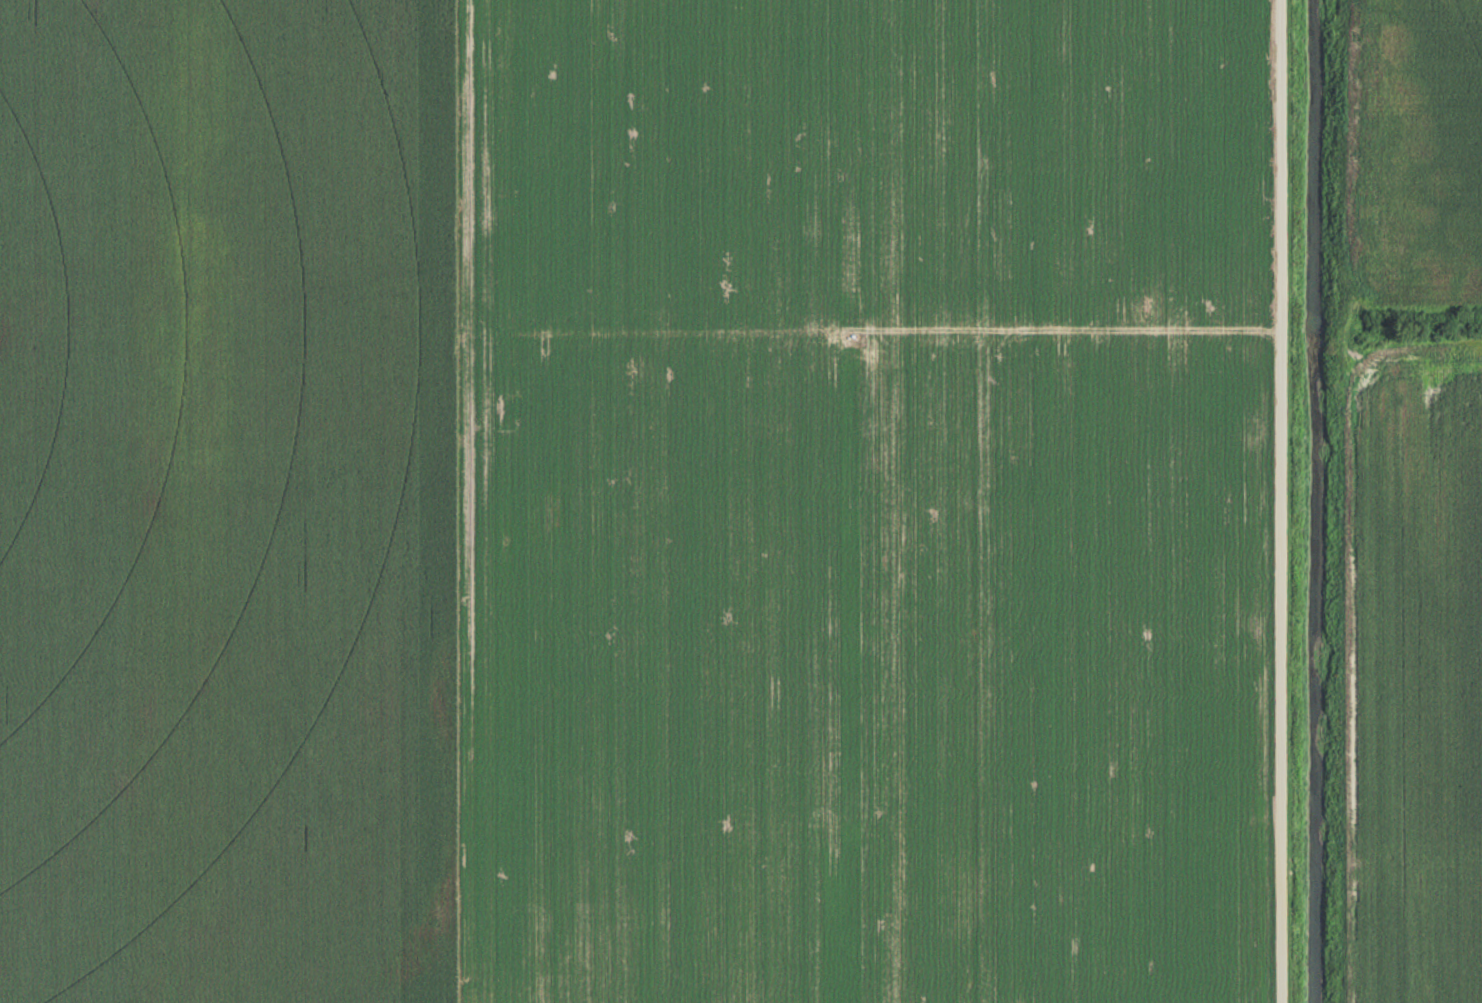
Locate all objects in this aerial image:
road: (1281, 501)

